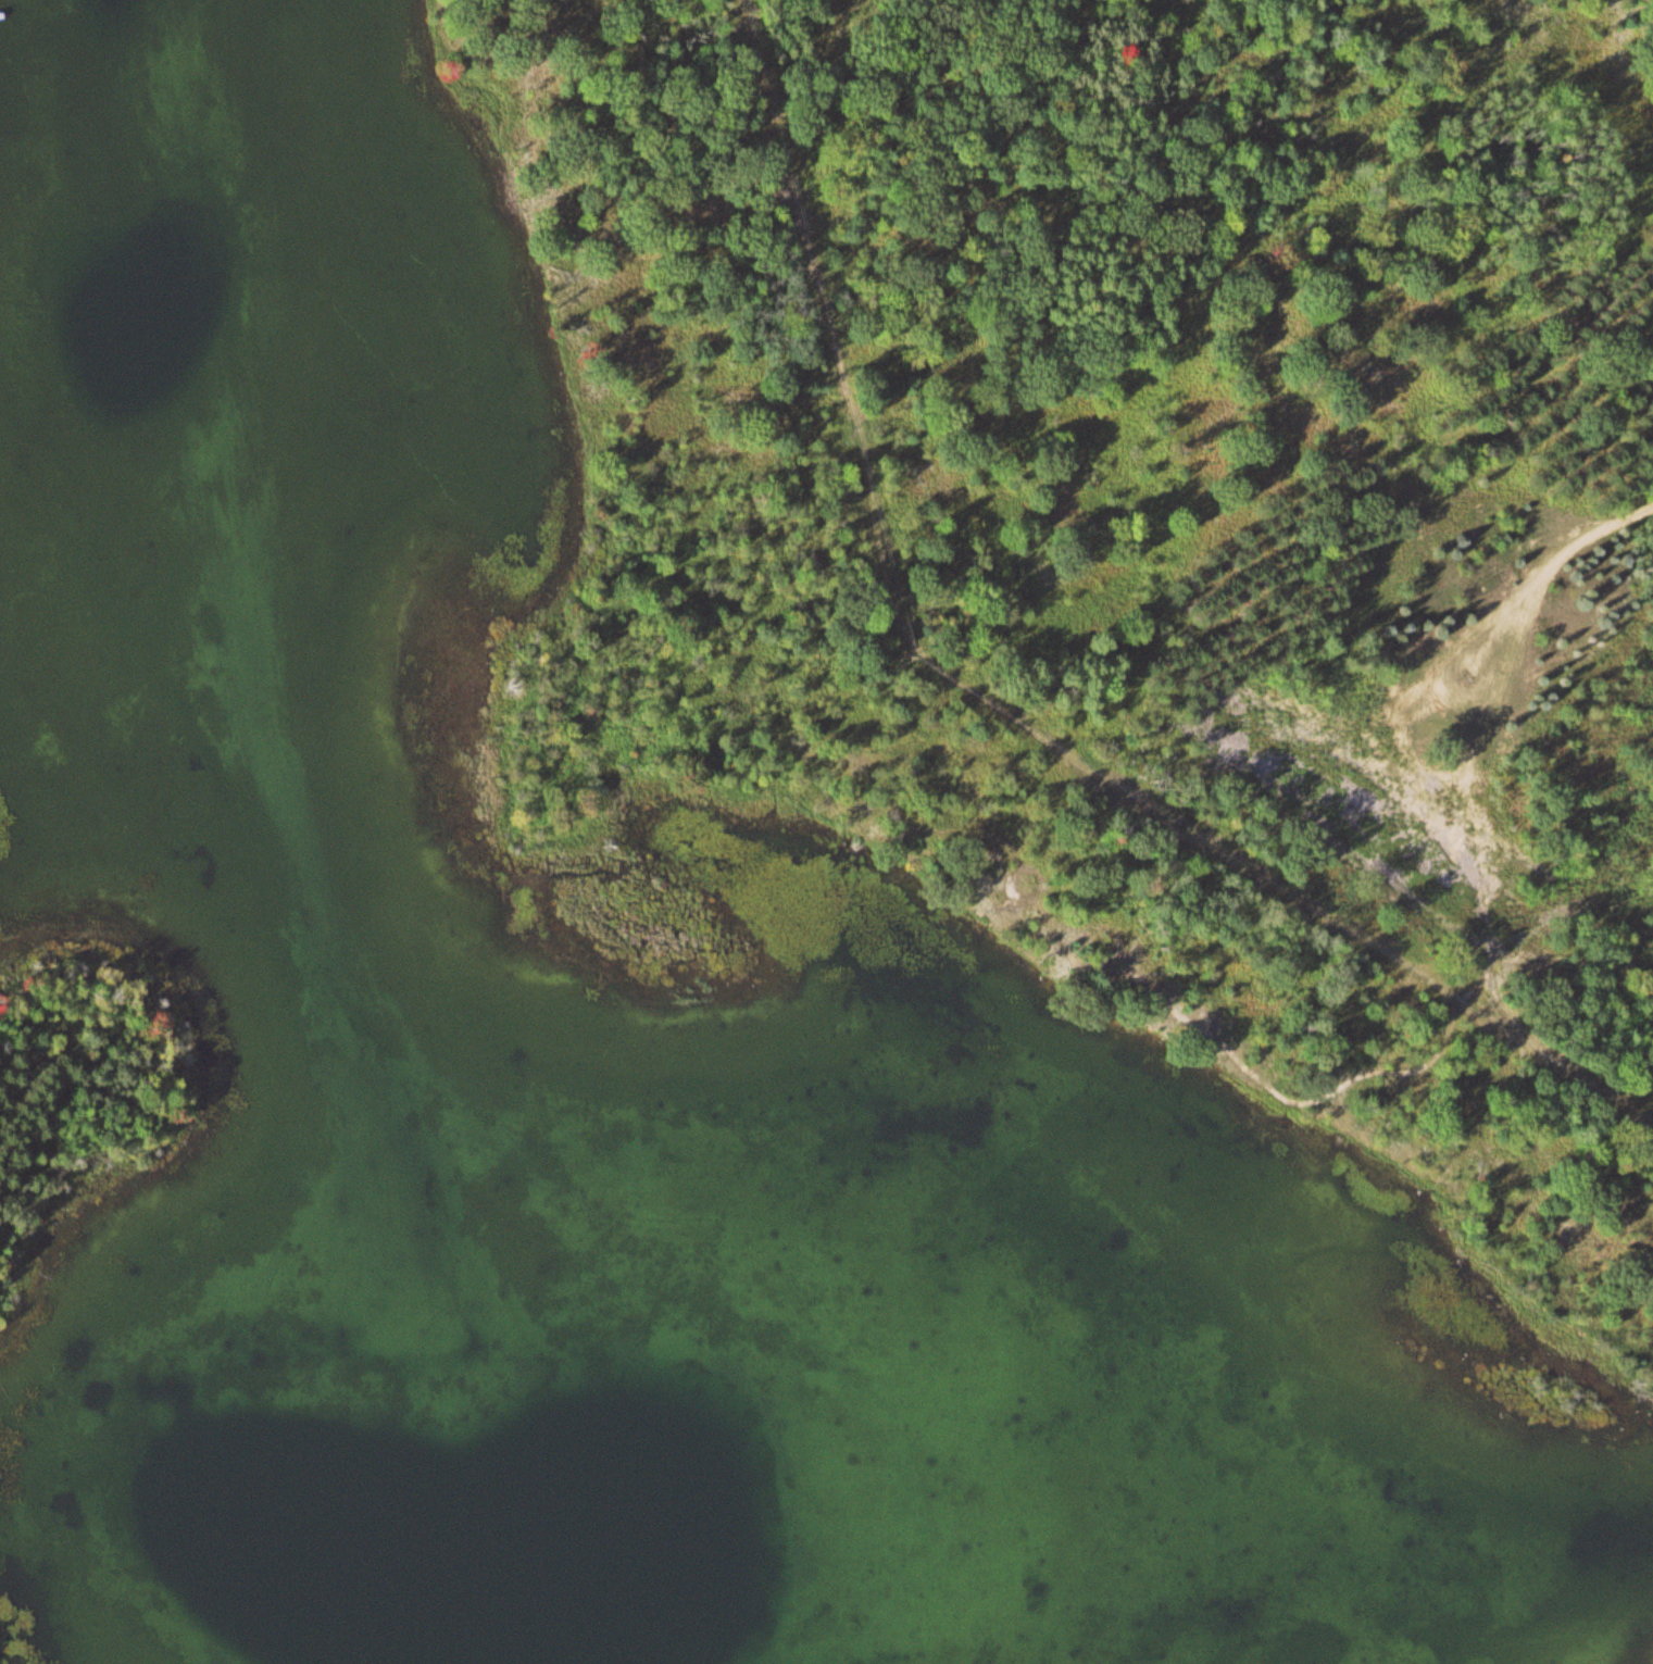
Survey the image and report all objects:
road: (1561, 564)

